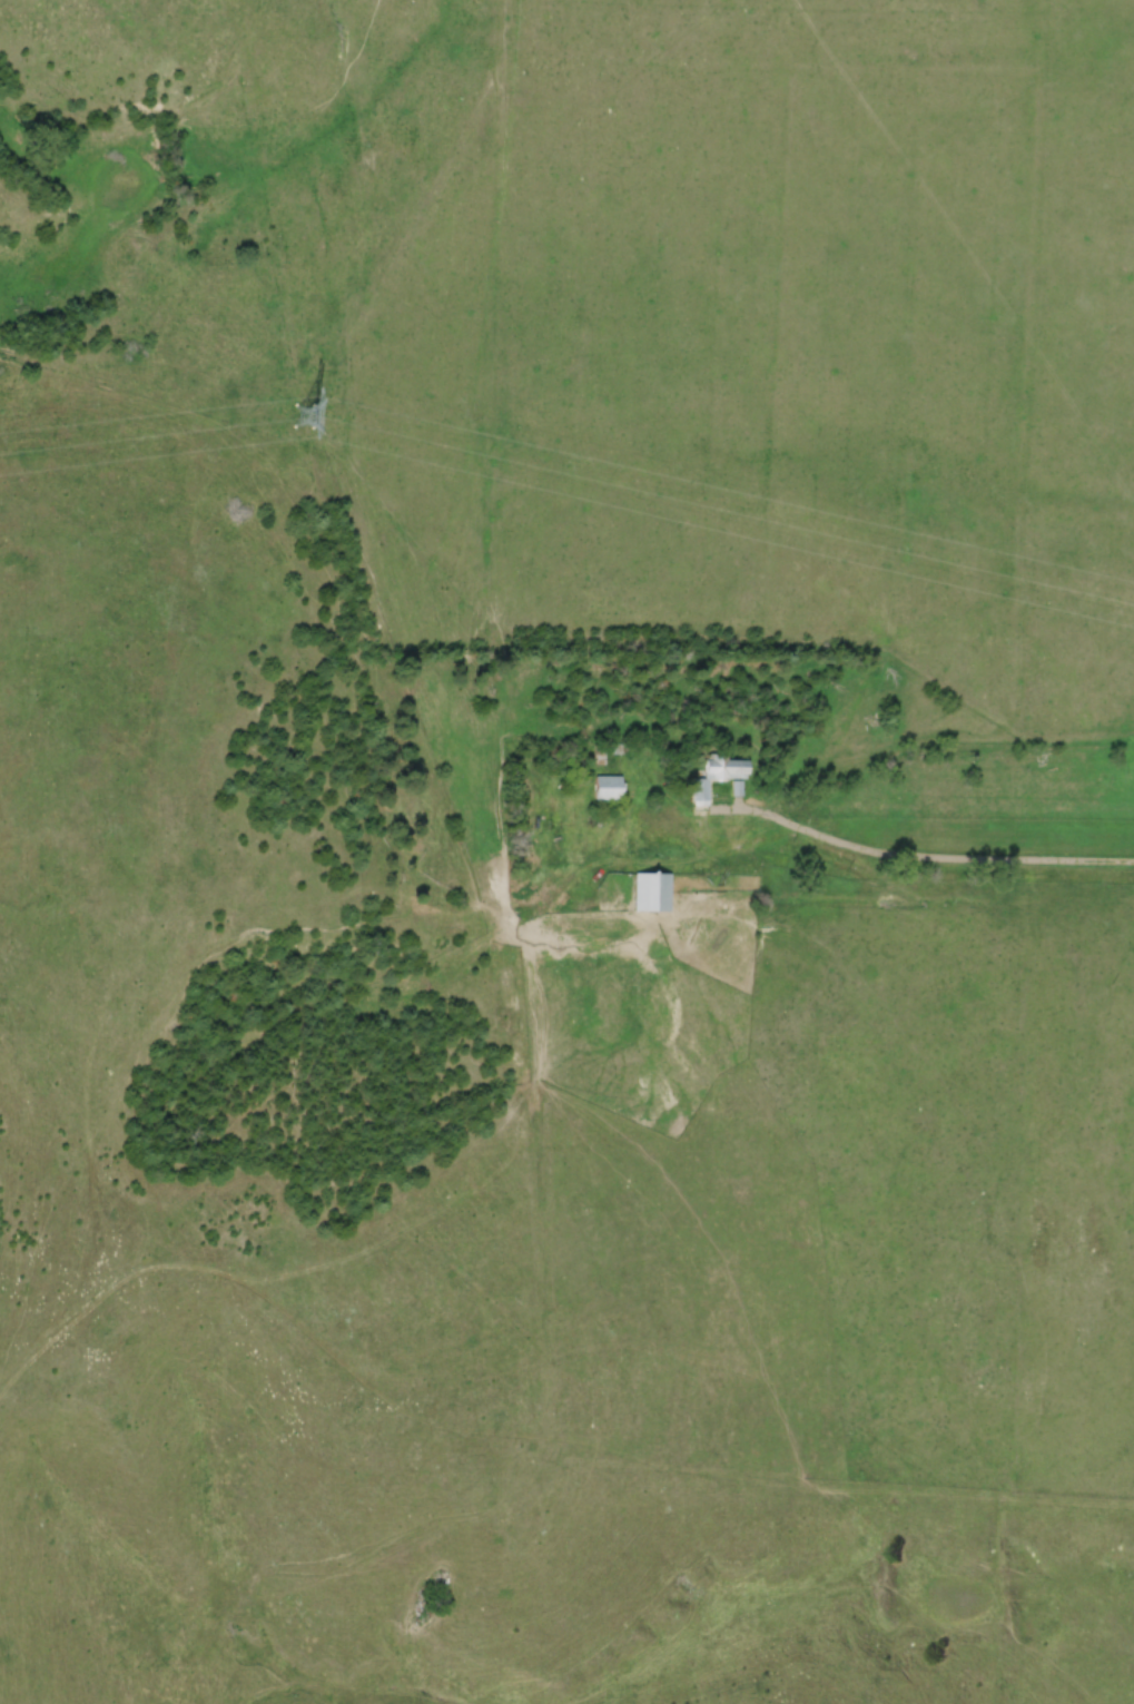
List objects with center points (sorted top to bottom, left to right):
power tower: (305, 416)
building: (607, 753)
building: (720, 775)
building: (610, 789)
road: (920, 855)
building: (654, 894)

